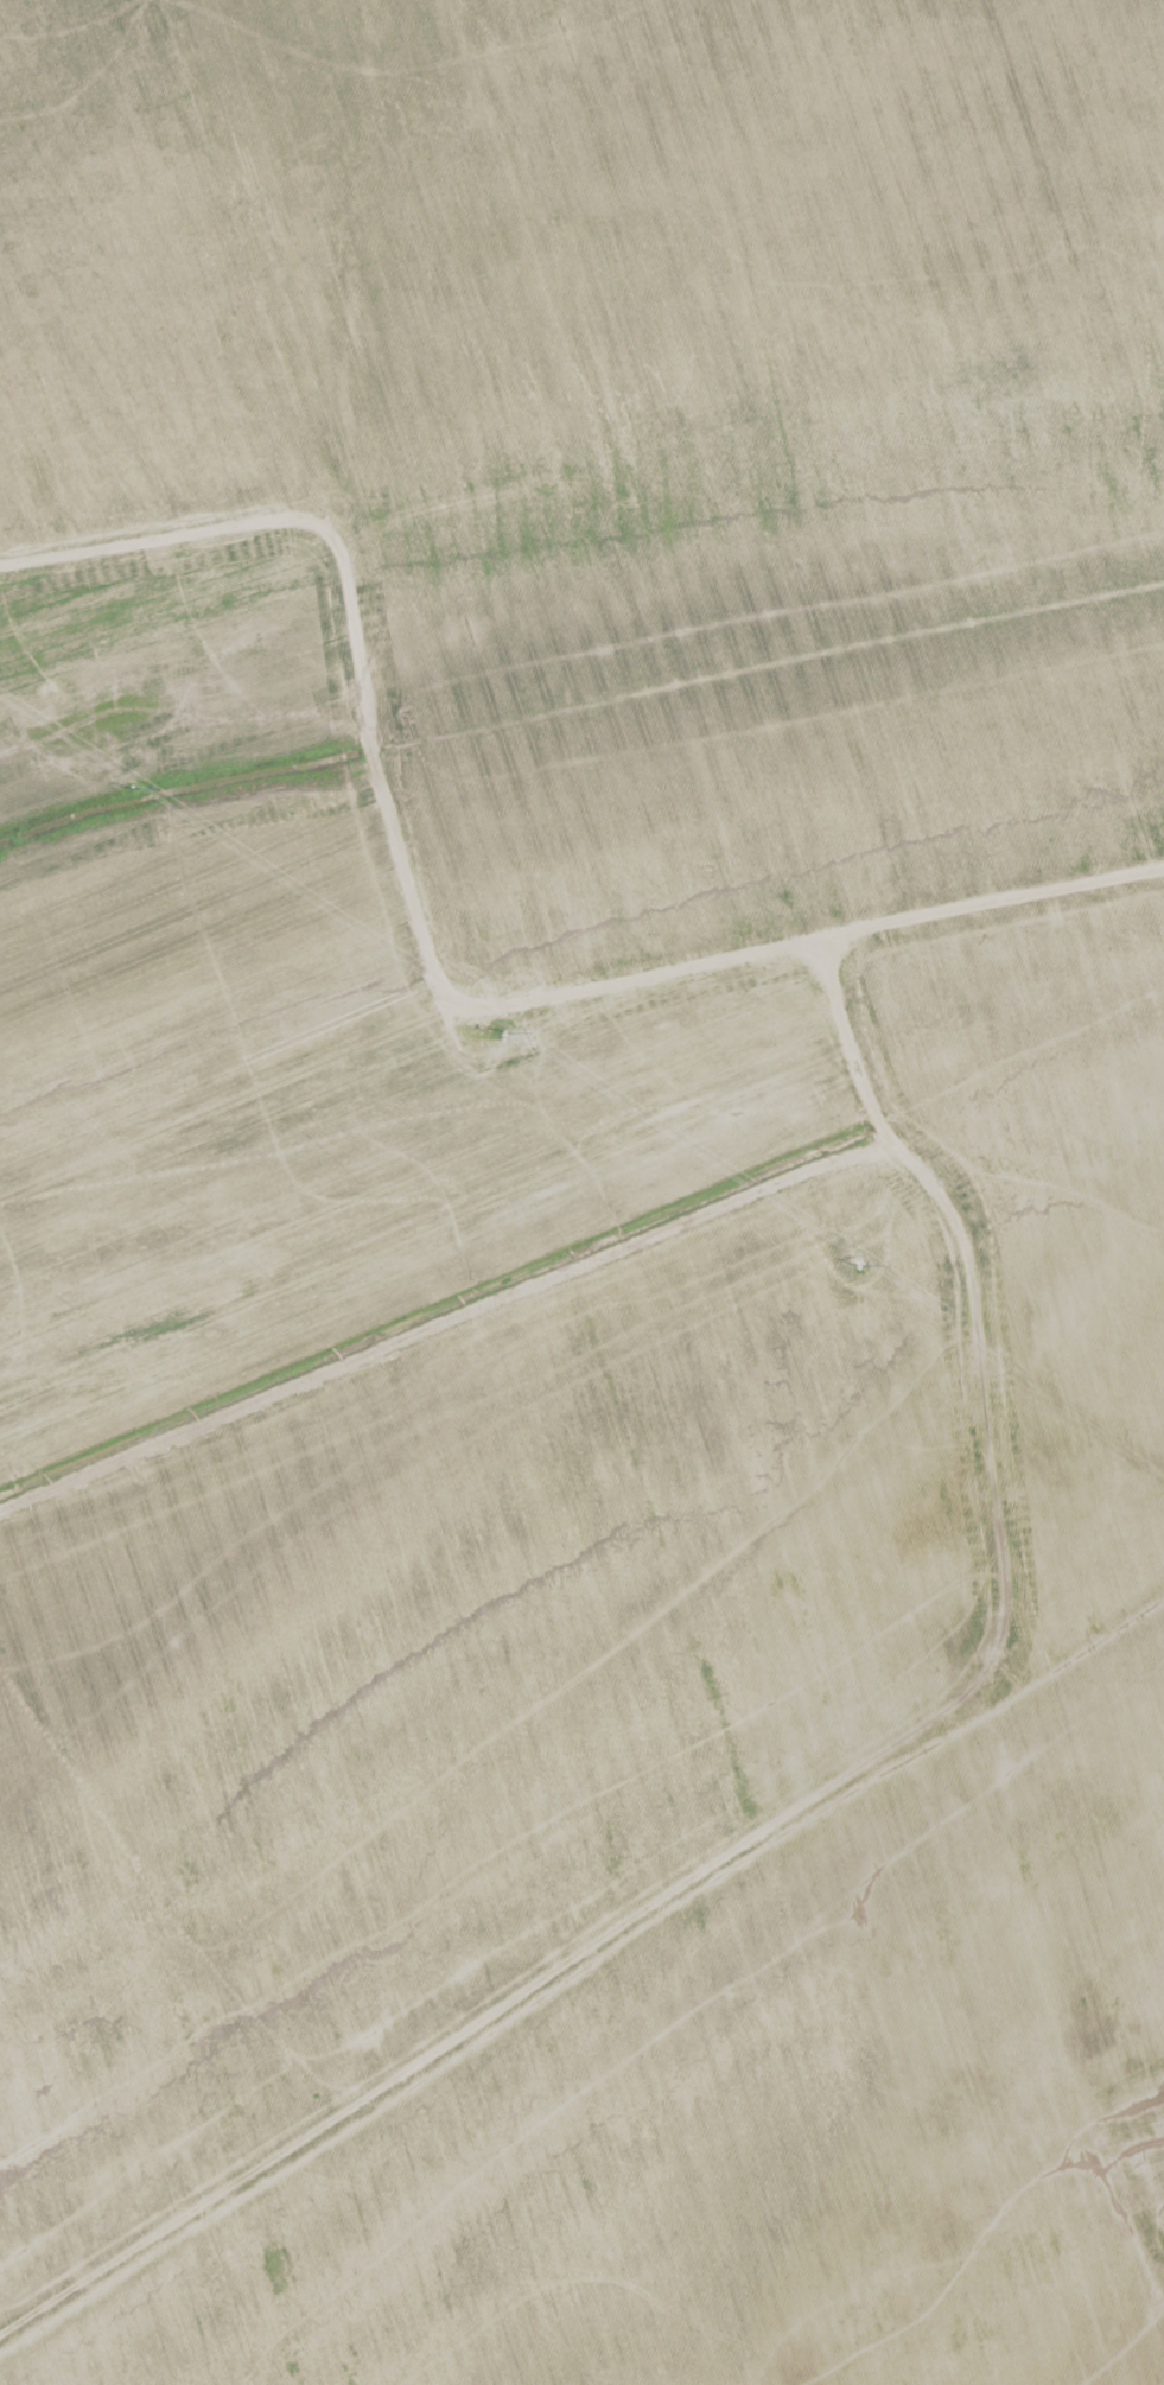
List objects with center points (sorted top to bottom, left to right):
road: (416, 962)
road: (438, 1309)
road: (822, 1791)

